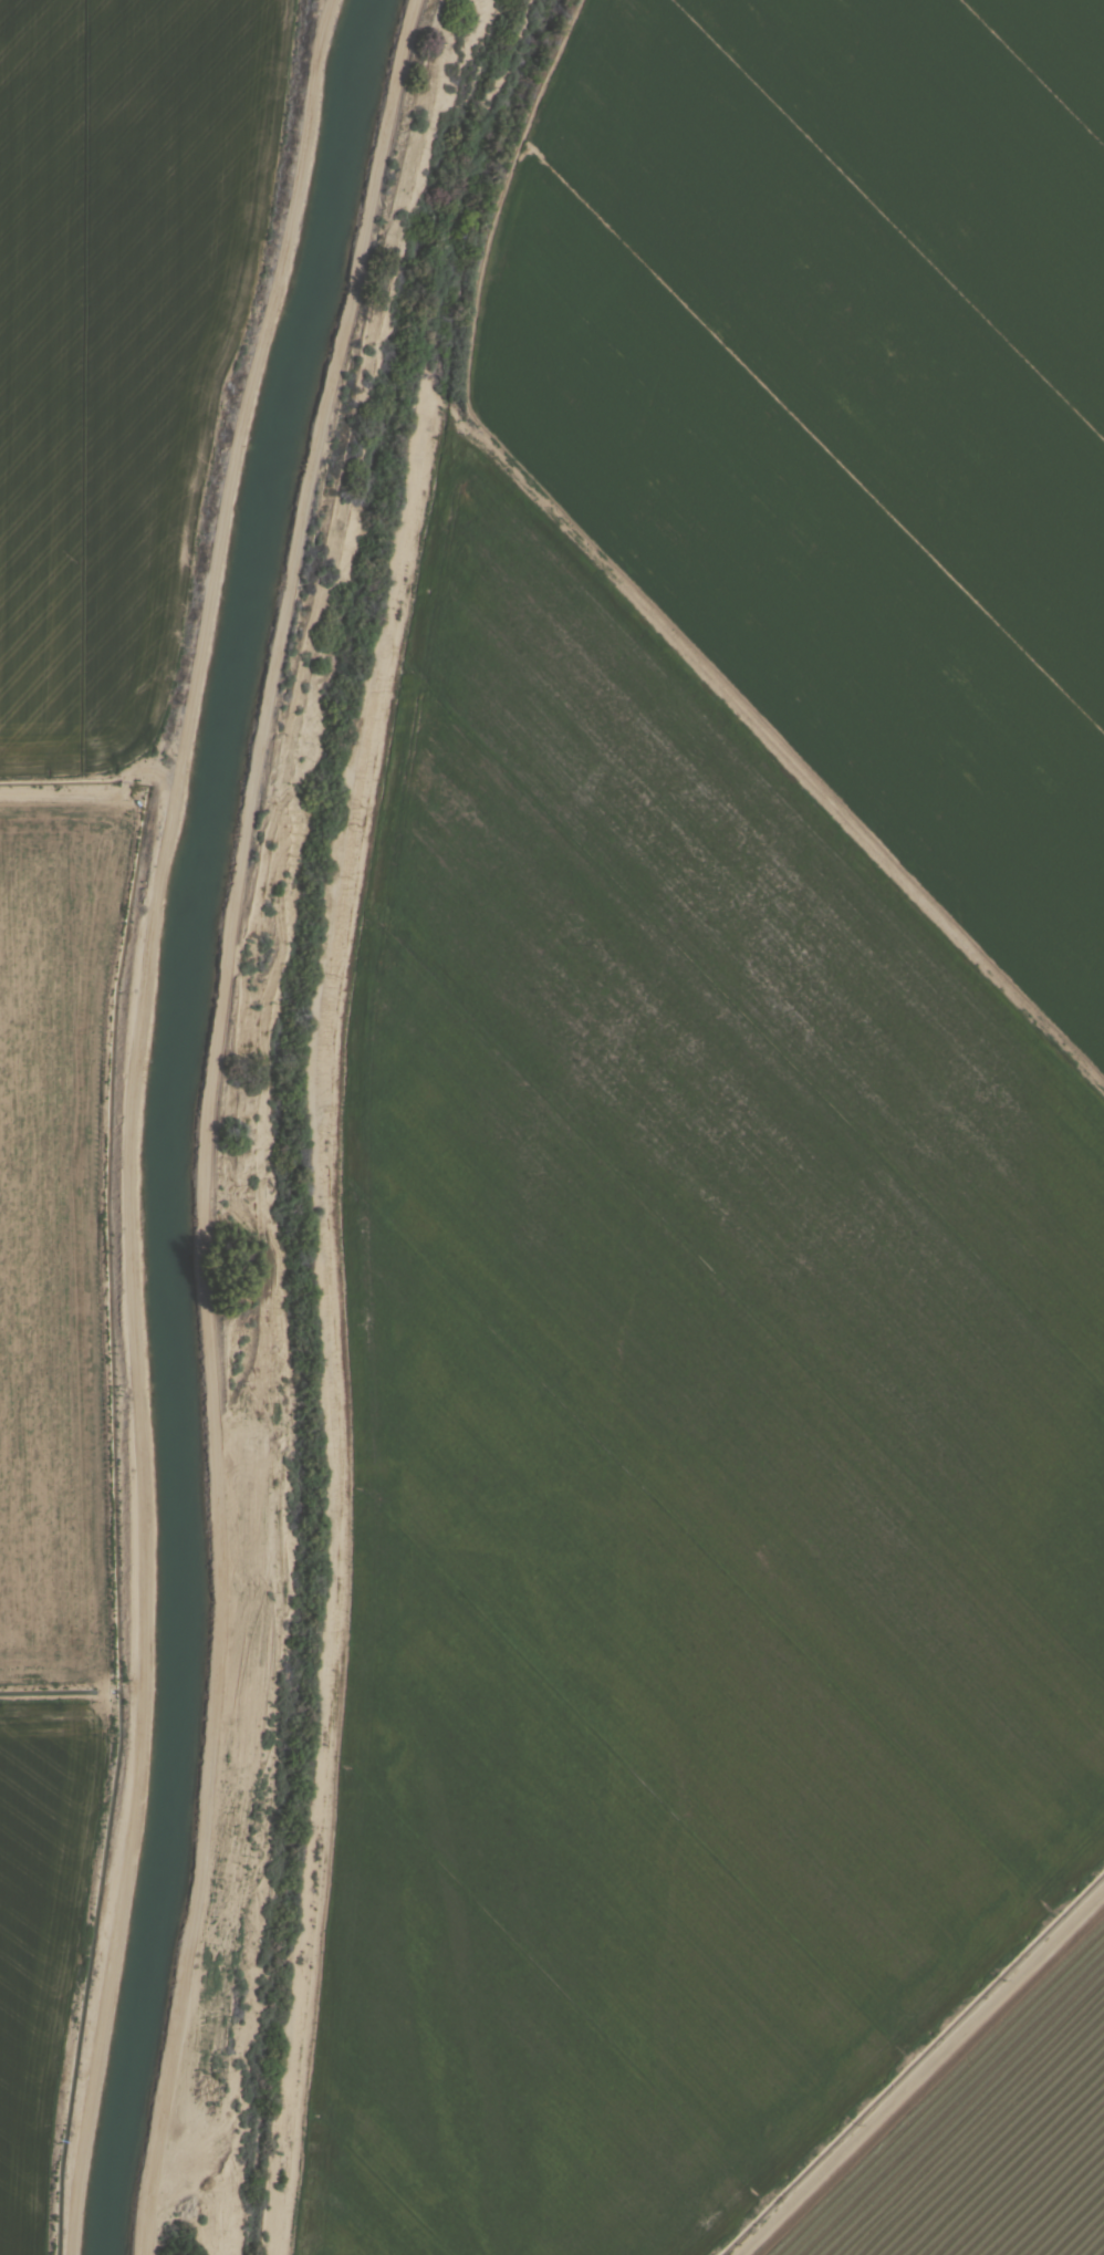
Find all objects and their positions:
crop: (847, 408)
crop: (685, 1457)
crop: (992, 2144)

